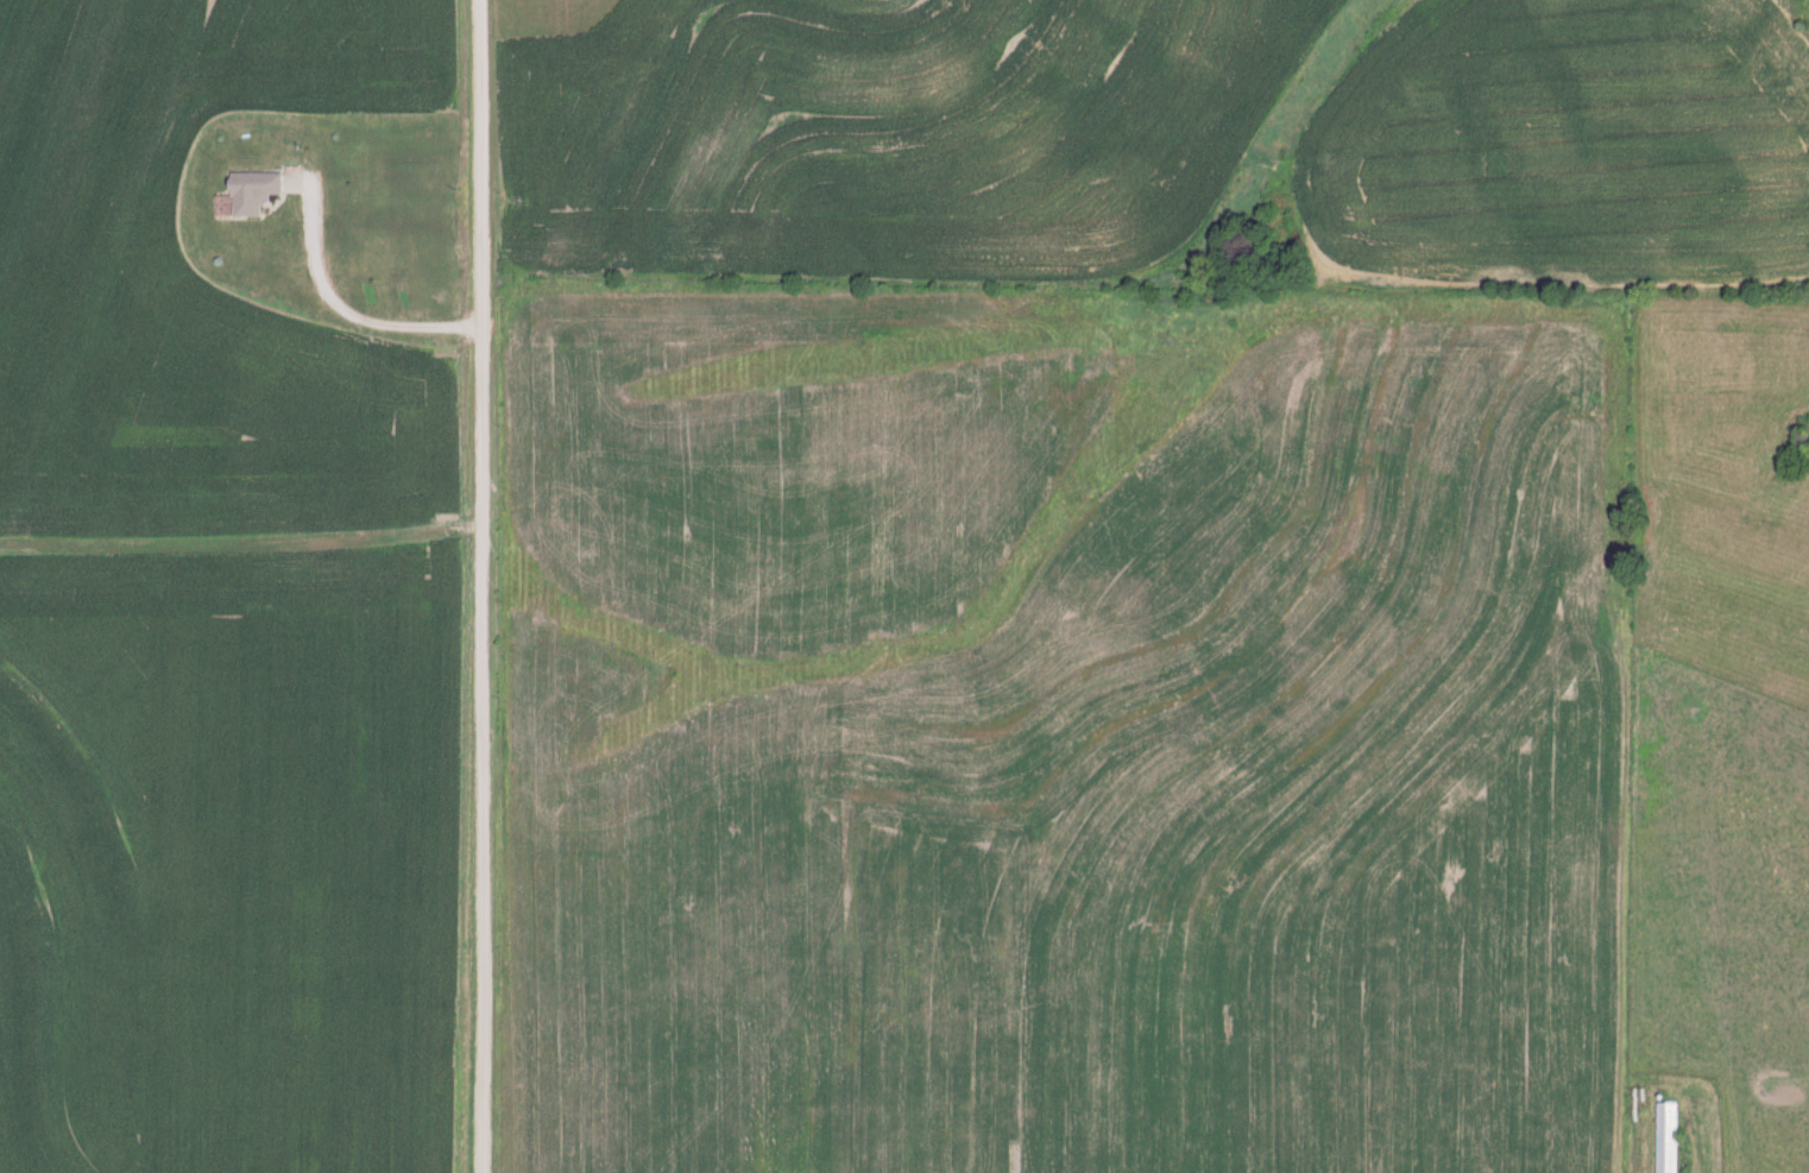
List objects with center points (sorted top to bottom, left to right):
building: (248, 191)
road: (478, 586)
building: (1664, 1137)

